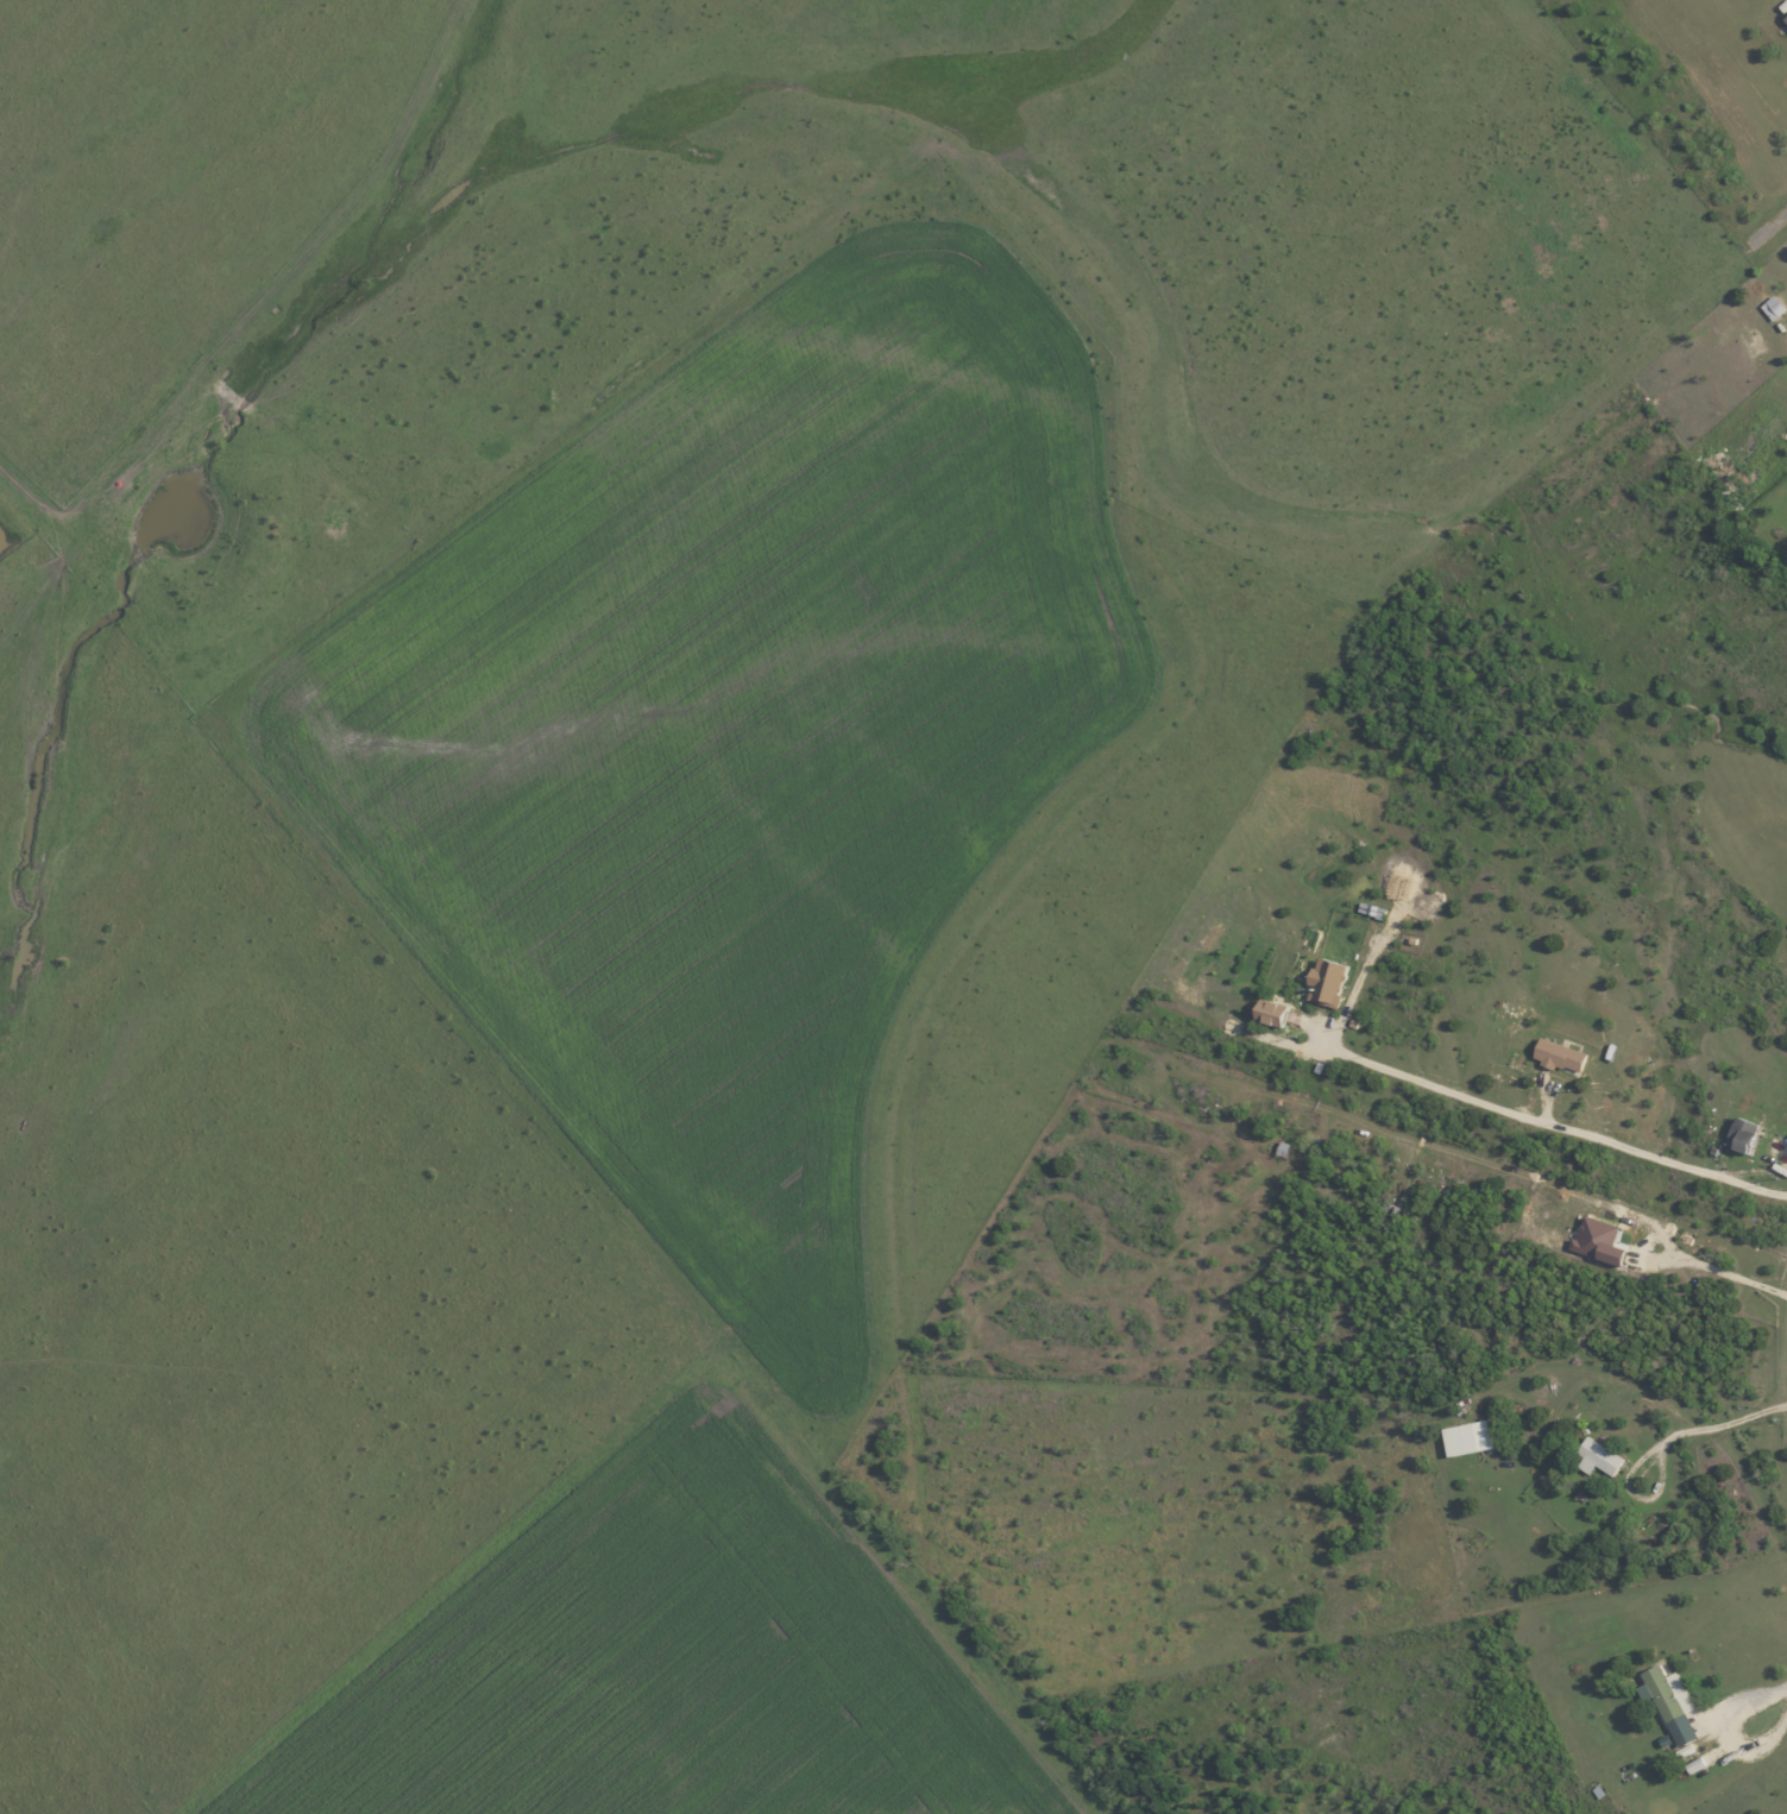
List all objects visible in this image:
building: (1785, 19)
road: (1767, 231)
building: (1772, 307)
building: (1324, 981)
building: (1269, 1012)
building: (1556, 1054)
road: (1541, 1119)
building: (1738, 1133)
building: (1597, 1240)
road: (1726, 1274)
road: (1750, 1417)
building: (1465, 1437)
building: (1596, 1456)
road: (1751, 1696)
building: (1667, 1701)

